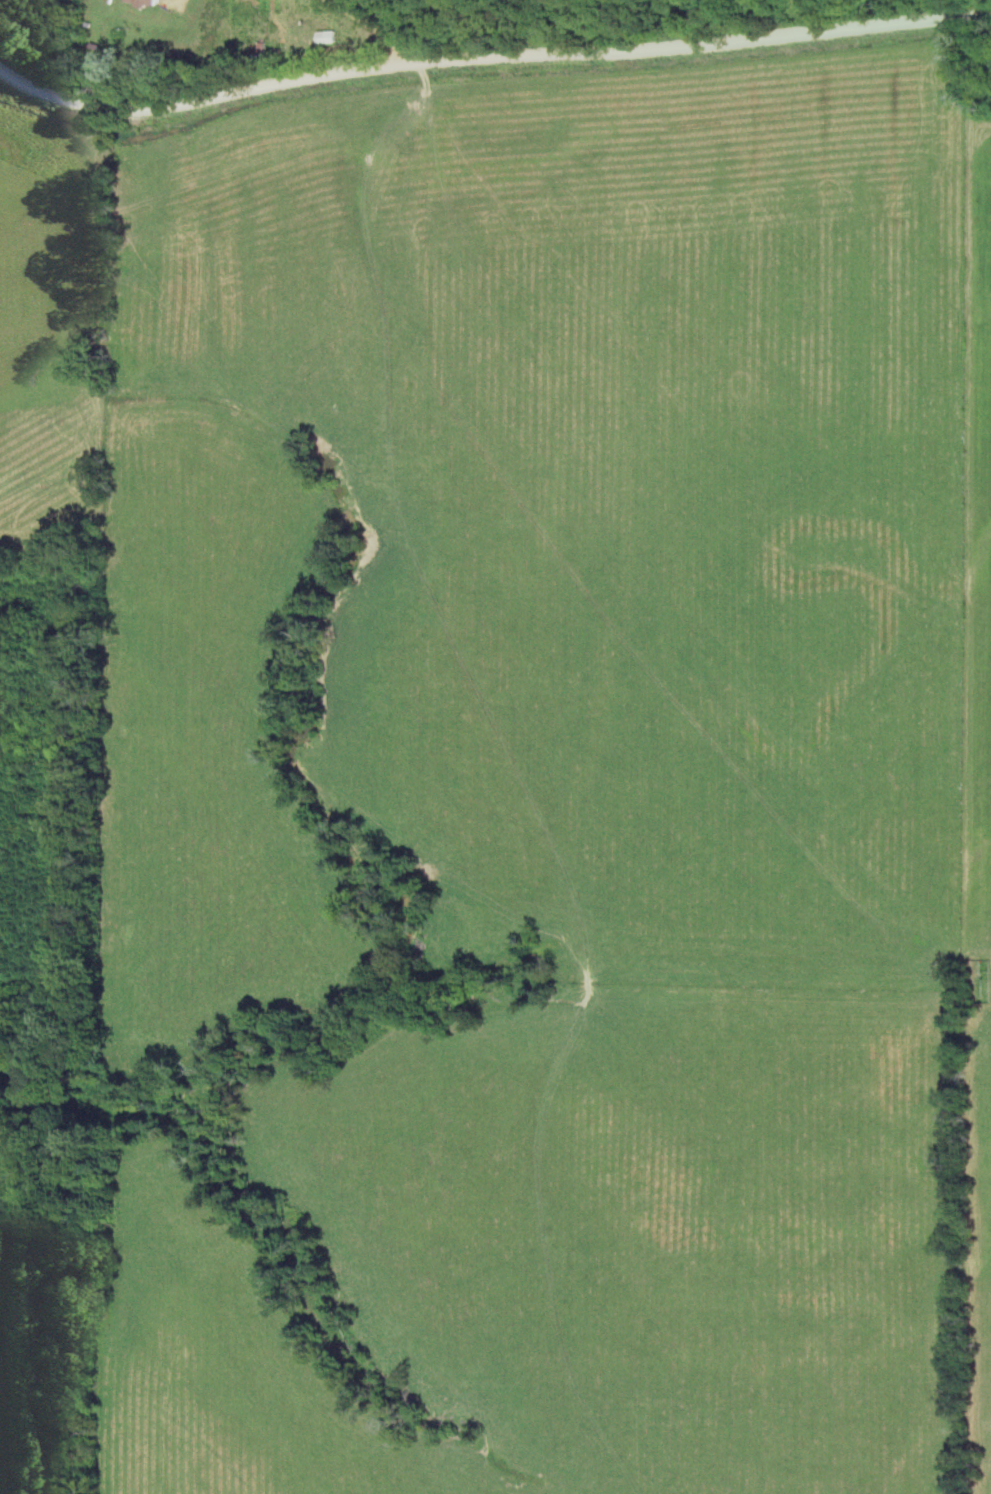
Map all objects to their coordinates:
building: (138, 2)
road: (371, 32)
building: (324, 38)
road: (489, 63)

